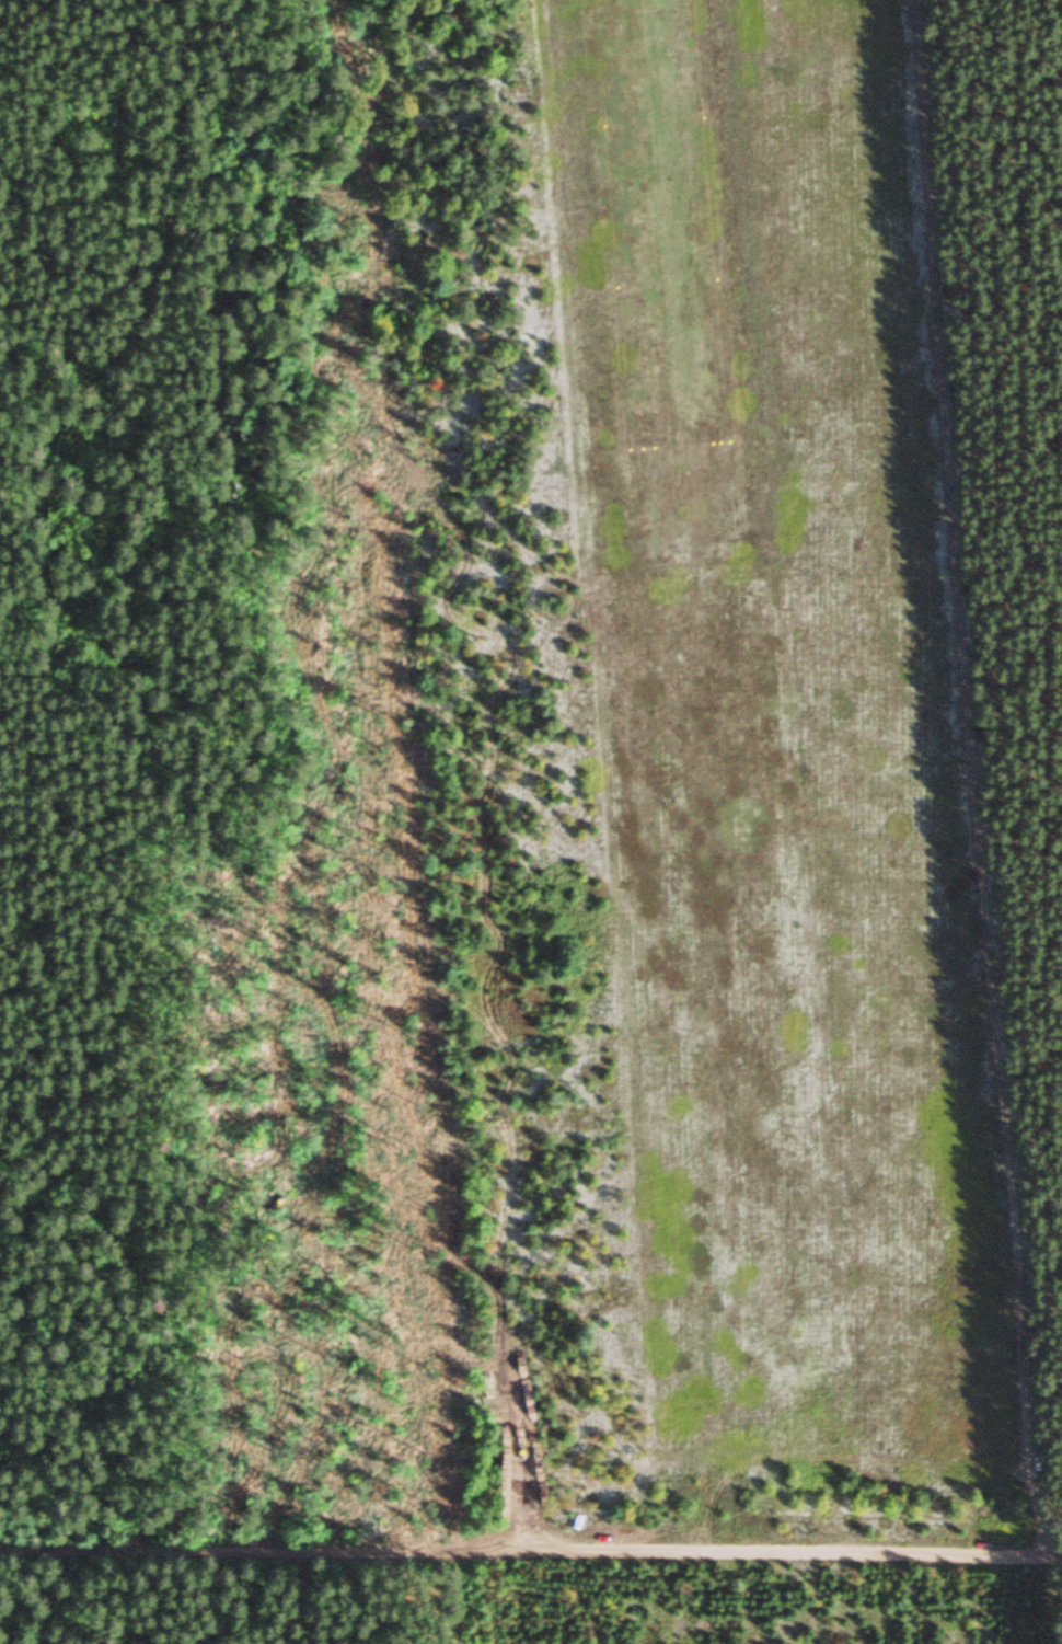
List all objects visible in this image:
airport runway: (673, 220)
road: (531, 1549)

